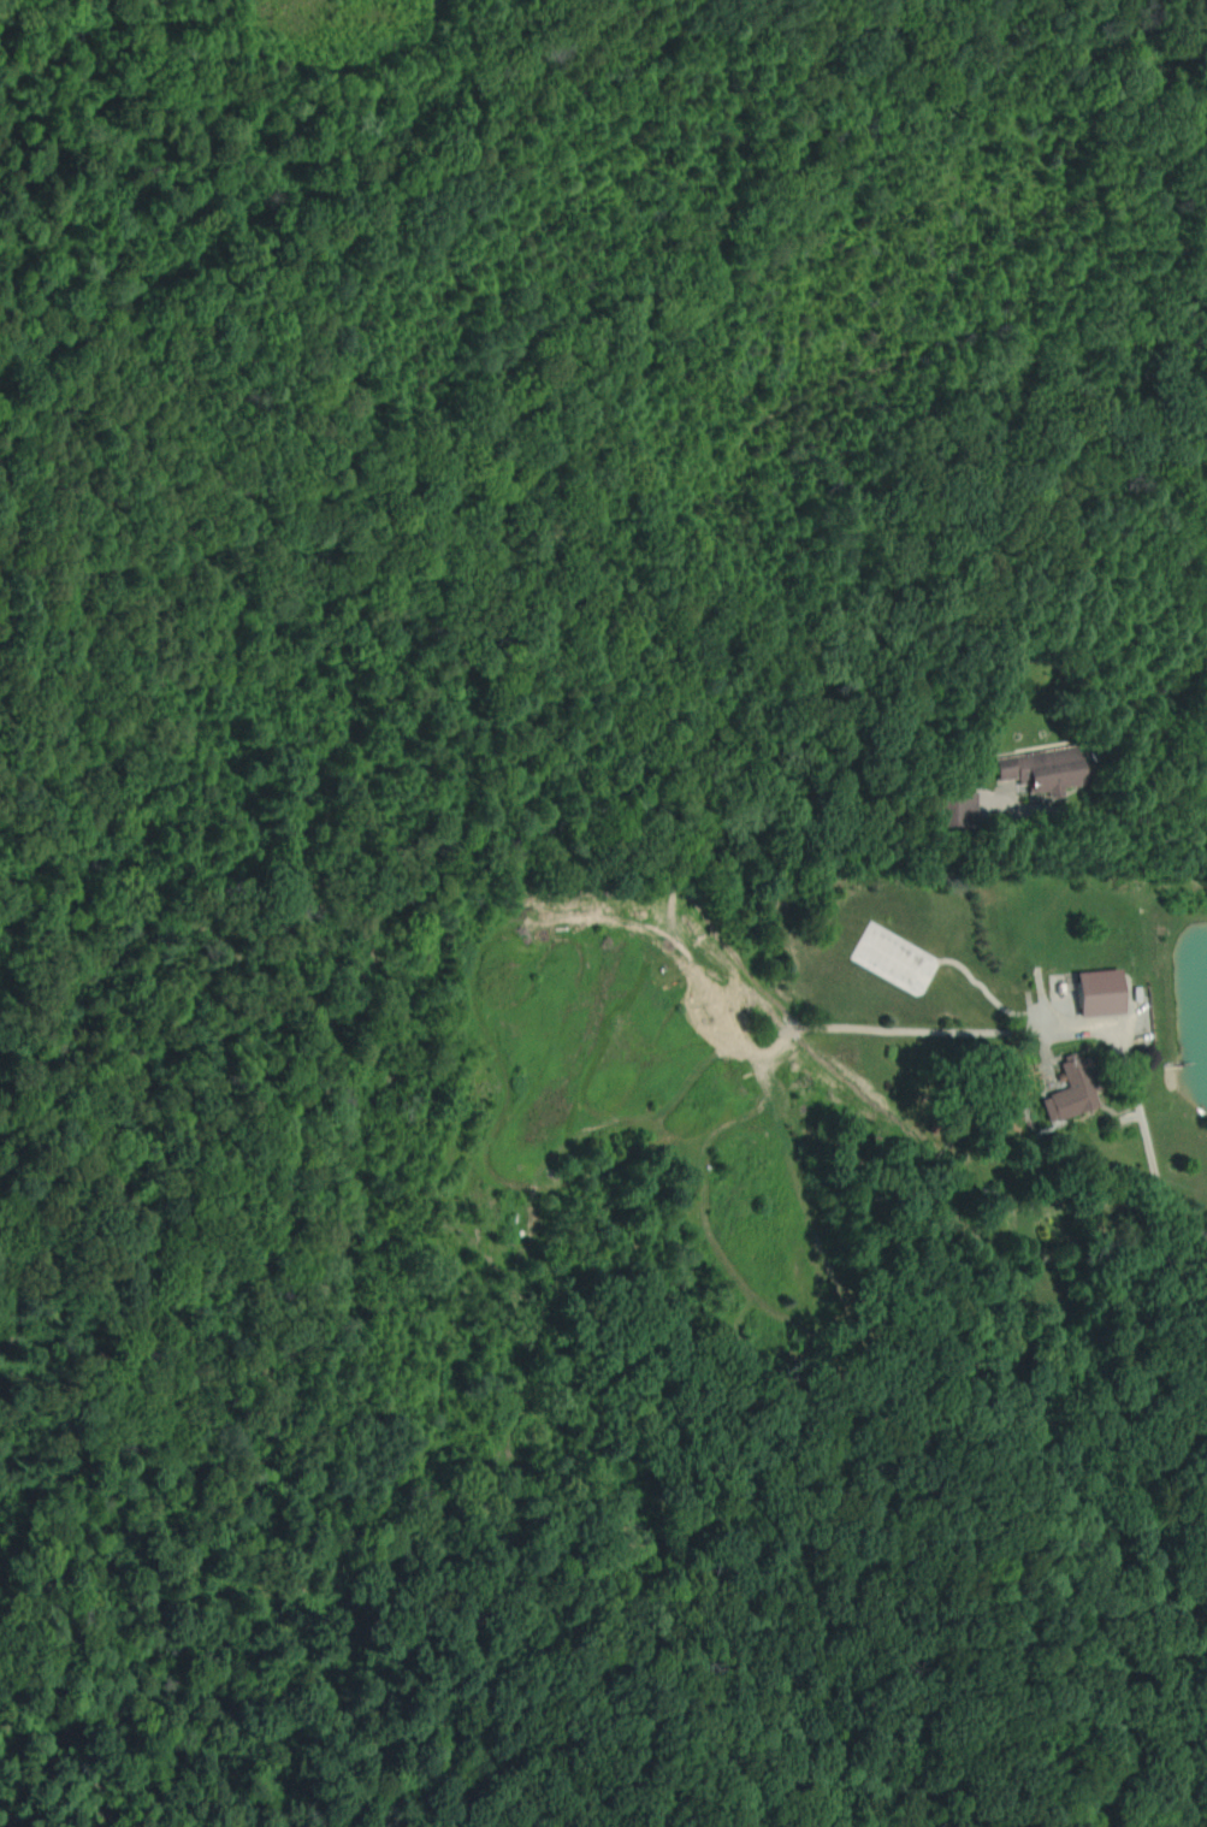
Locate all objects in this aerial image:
building: (1040, 770)
building: (949, 809)
building: (888, 957)
building: (1096, 992)
building: (1067, 1092)
road: (1147, 1161)

